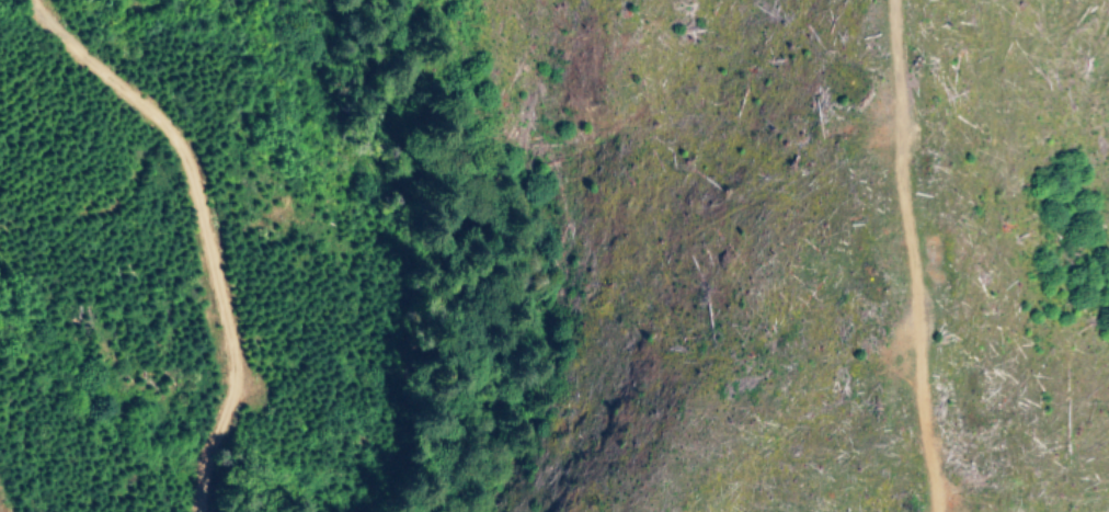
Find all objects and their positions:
road: (4, 493)

